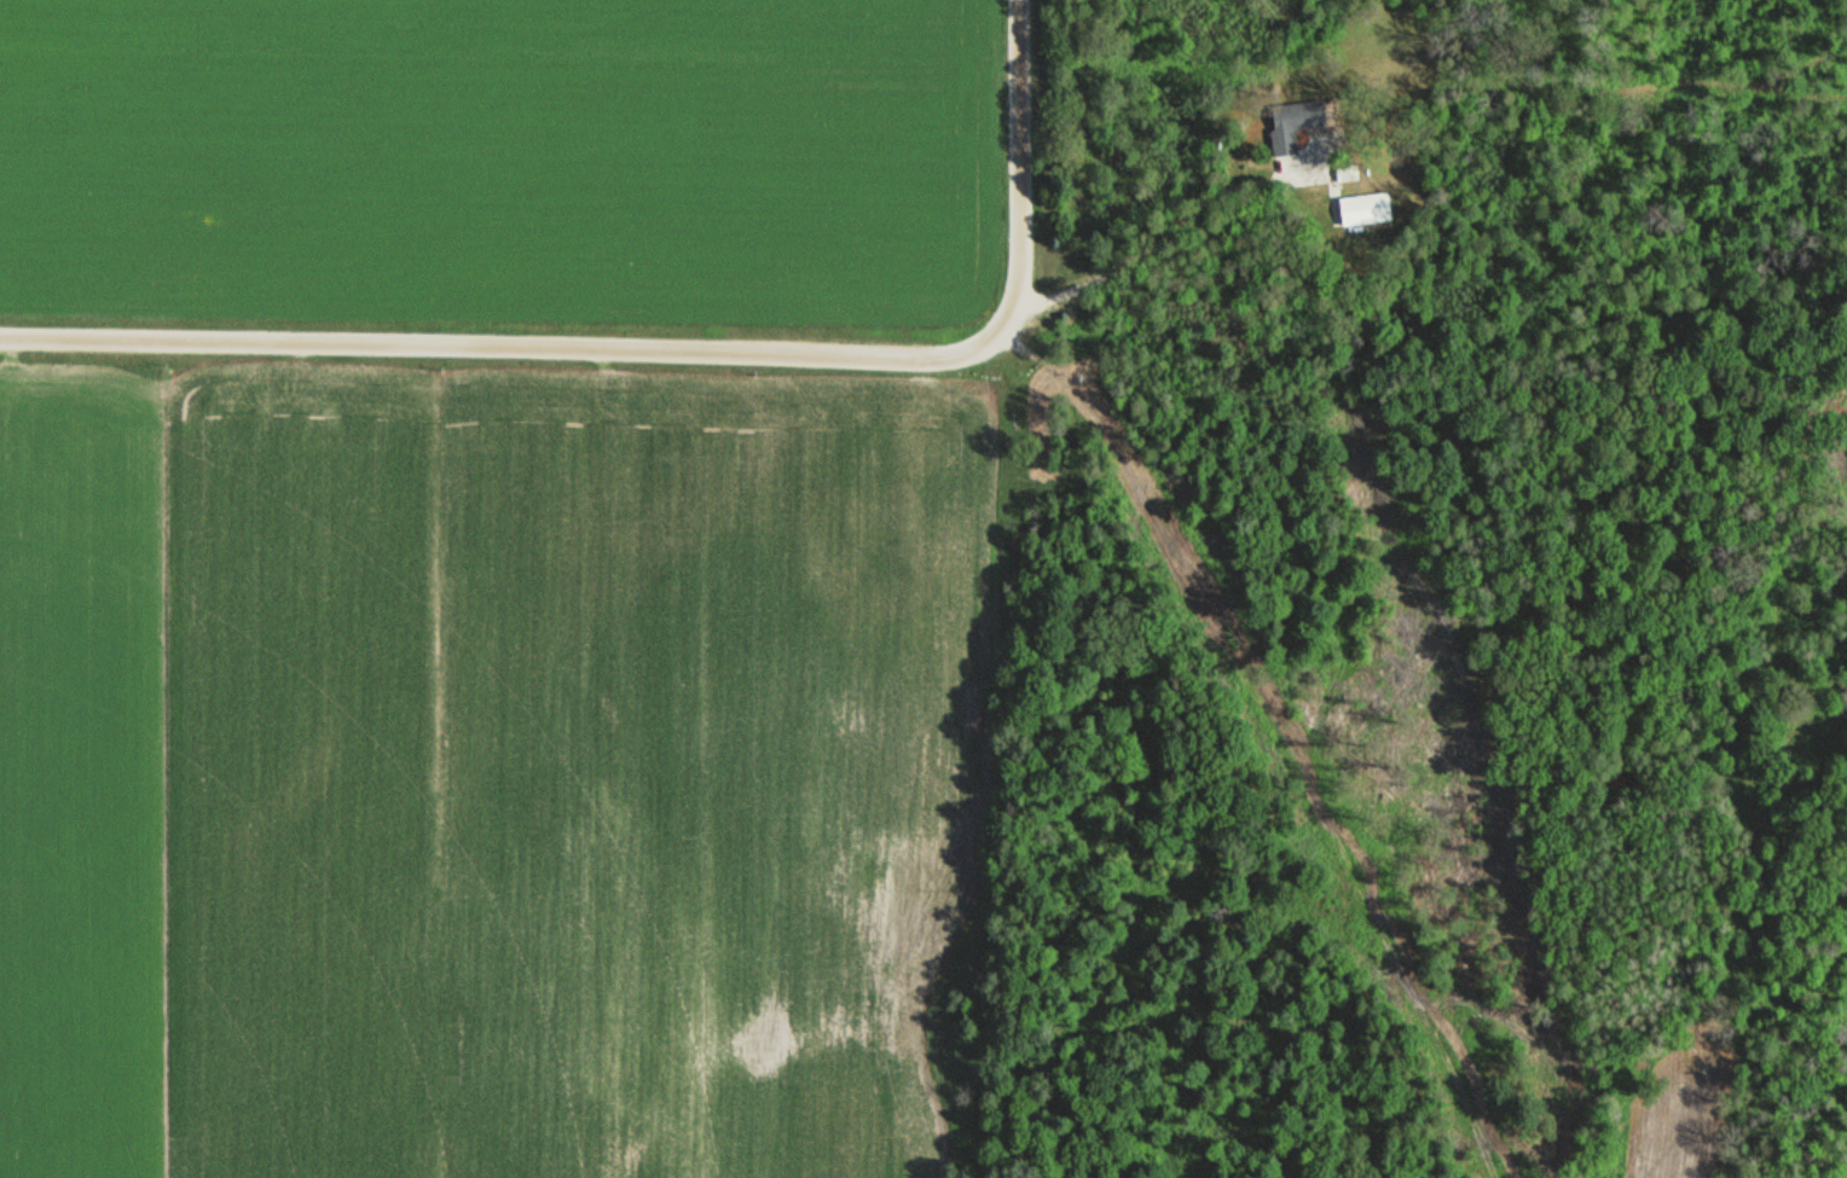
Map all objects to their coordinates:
building: (1295, 122)
road: (1289, 167)
road: (1019, 170)
building: (1348, 170)
building: (1366, 207)
road: (1188, 214)
road: (502, 349)
road: (1281, 732)

